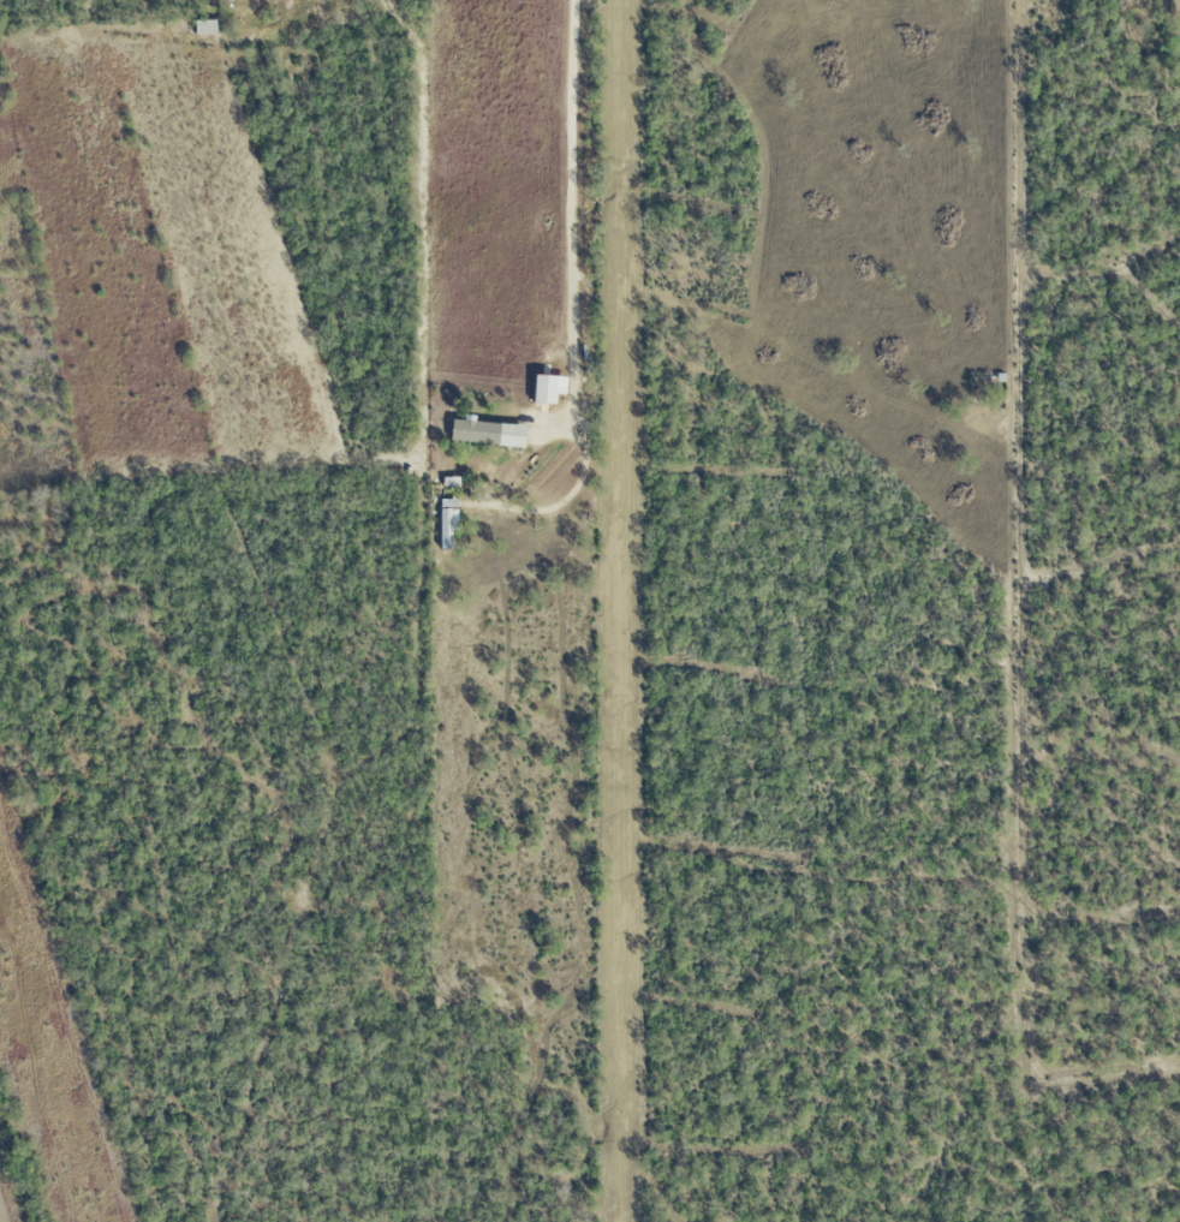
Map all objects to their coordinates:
building: (205, 26)
road: (572, 223)
building: (550, 388)
building: (490, 431)

